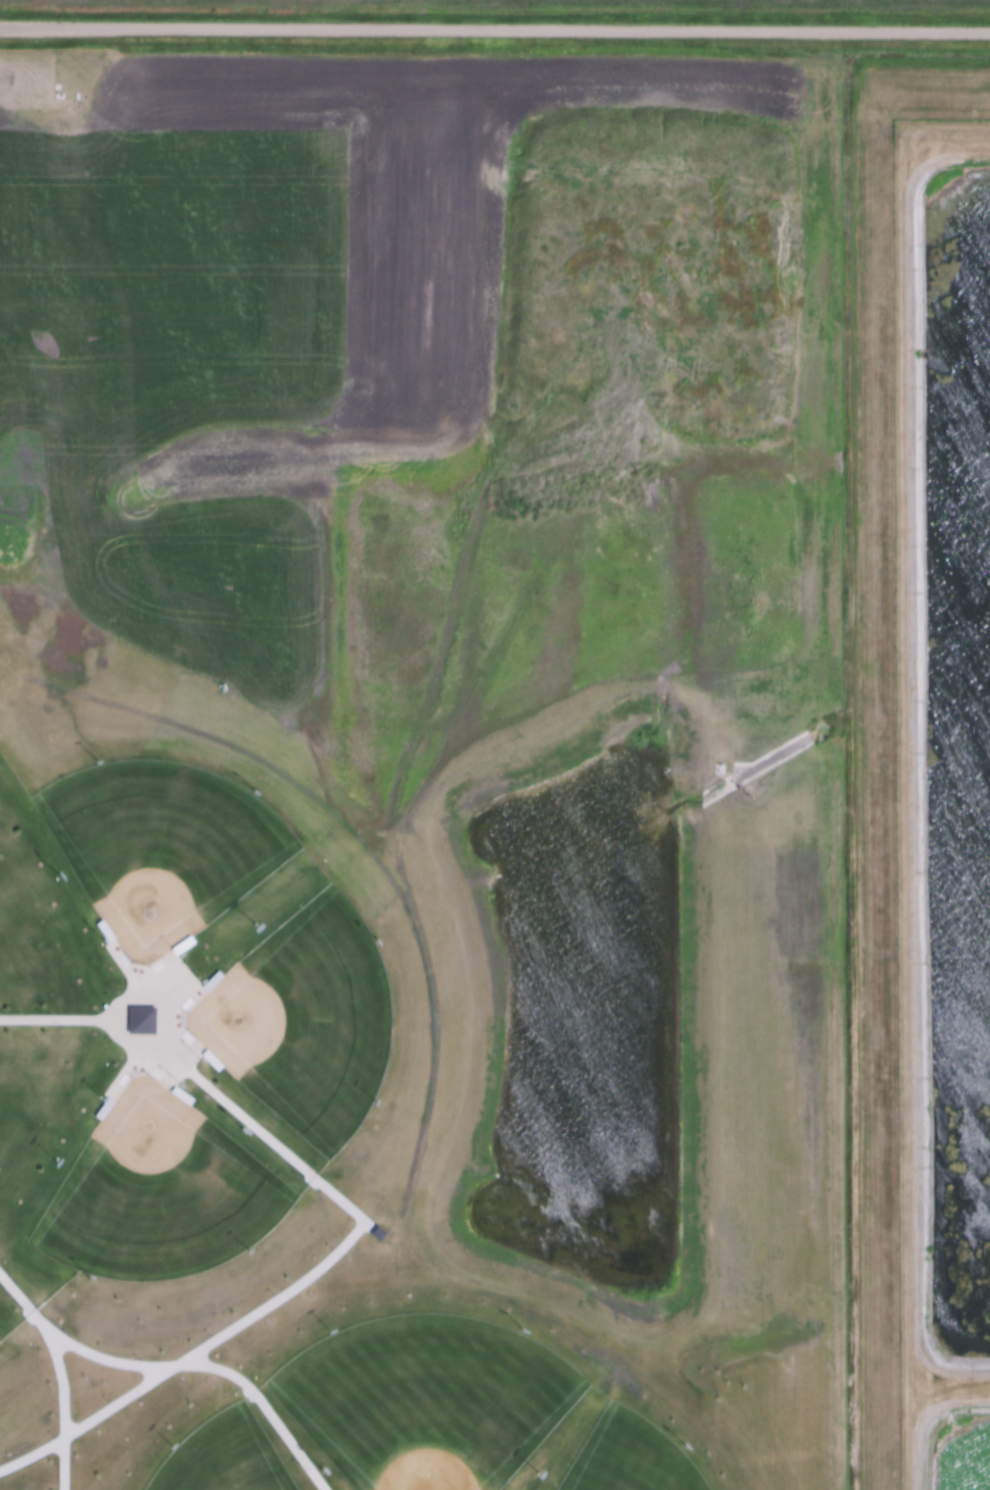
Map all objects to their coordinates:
crop: (535, 4)
road: (495, 32)
crop: (415, 771)
wastewater plant: (943, 795)
park: (161, 848)
road: (127, 970)
road: (127, 999)
road: (56, 1020)
park: (304, 1022)
road: (128, 1067)
park: (157, 1196)
road: (303, 1281)
road: (74, 1347)
park: (425, 1398)
road: (263, 1406)
road: (62, 1408)
park: (630, 1456)
park: (225, 1457)

